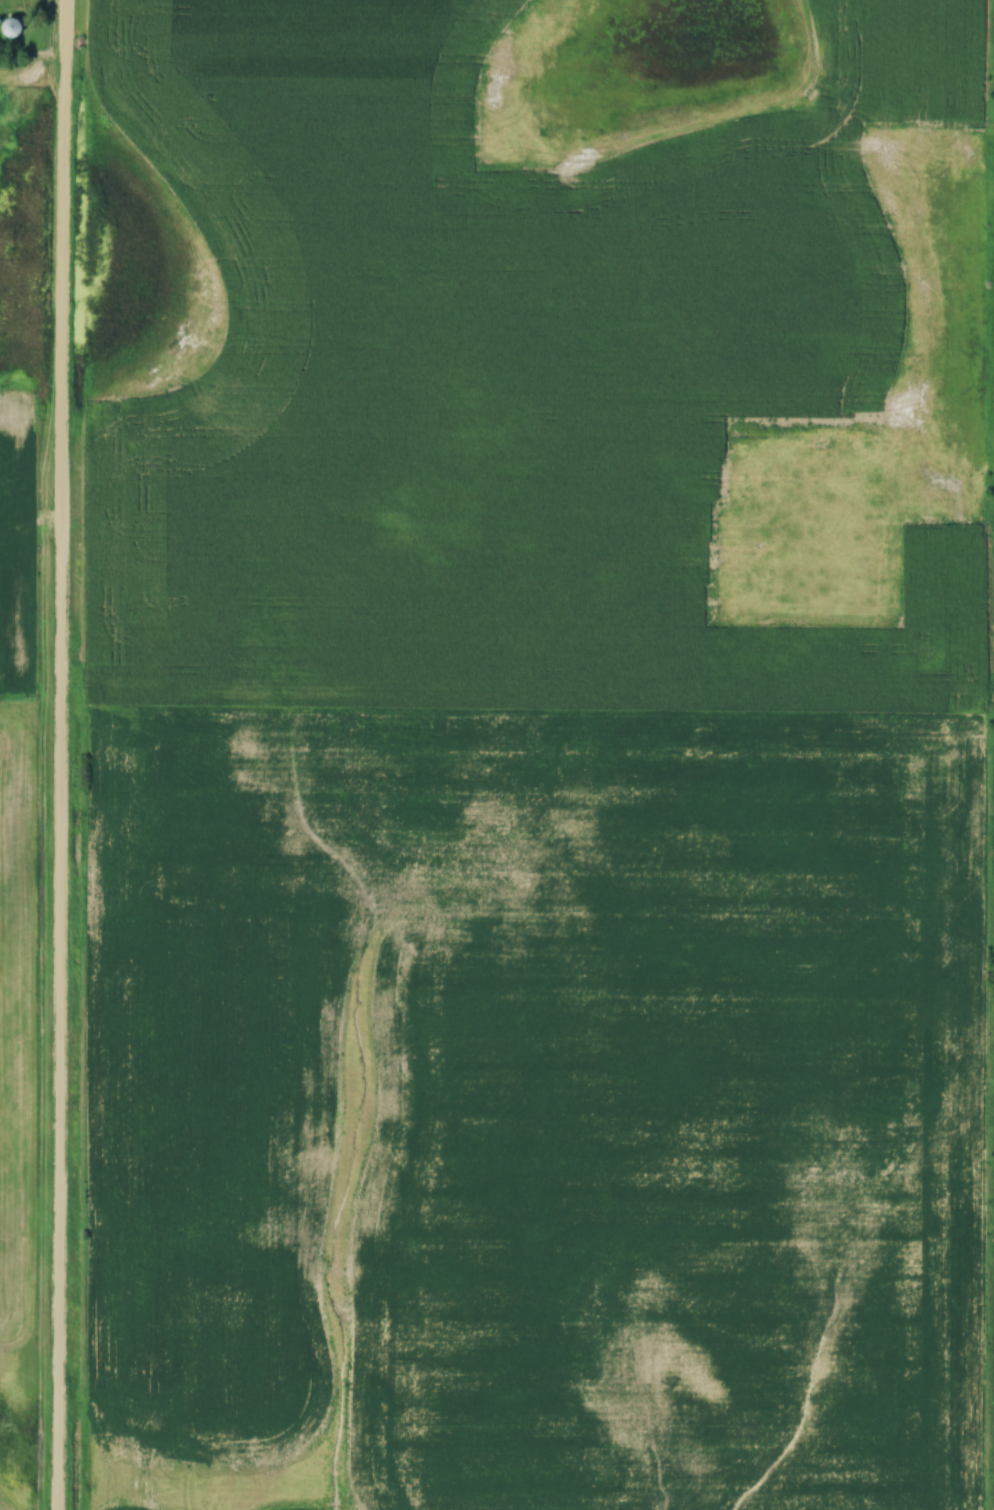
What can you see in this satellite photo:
road: (61, 755)

